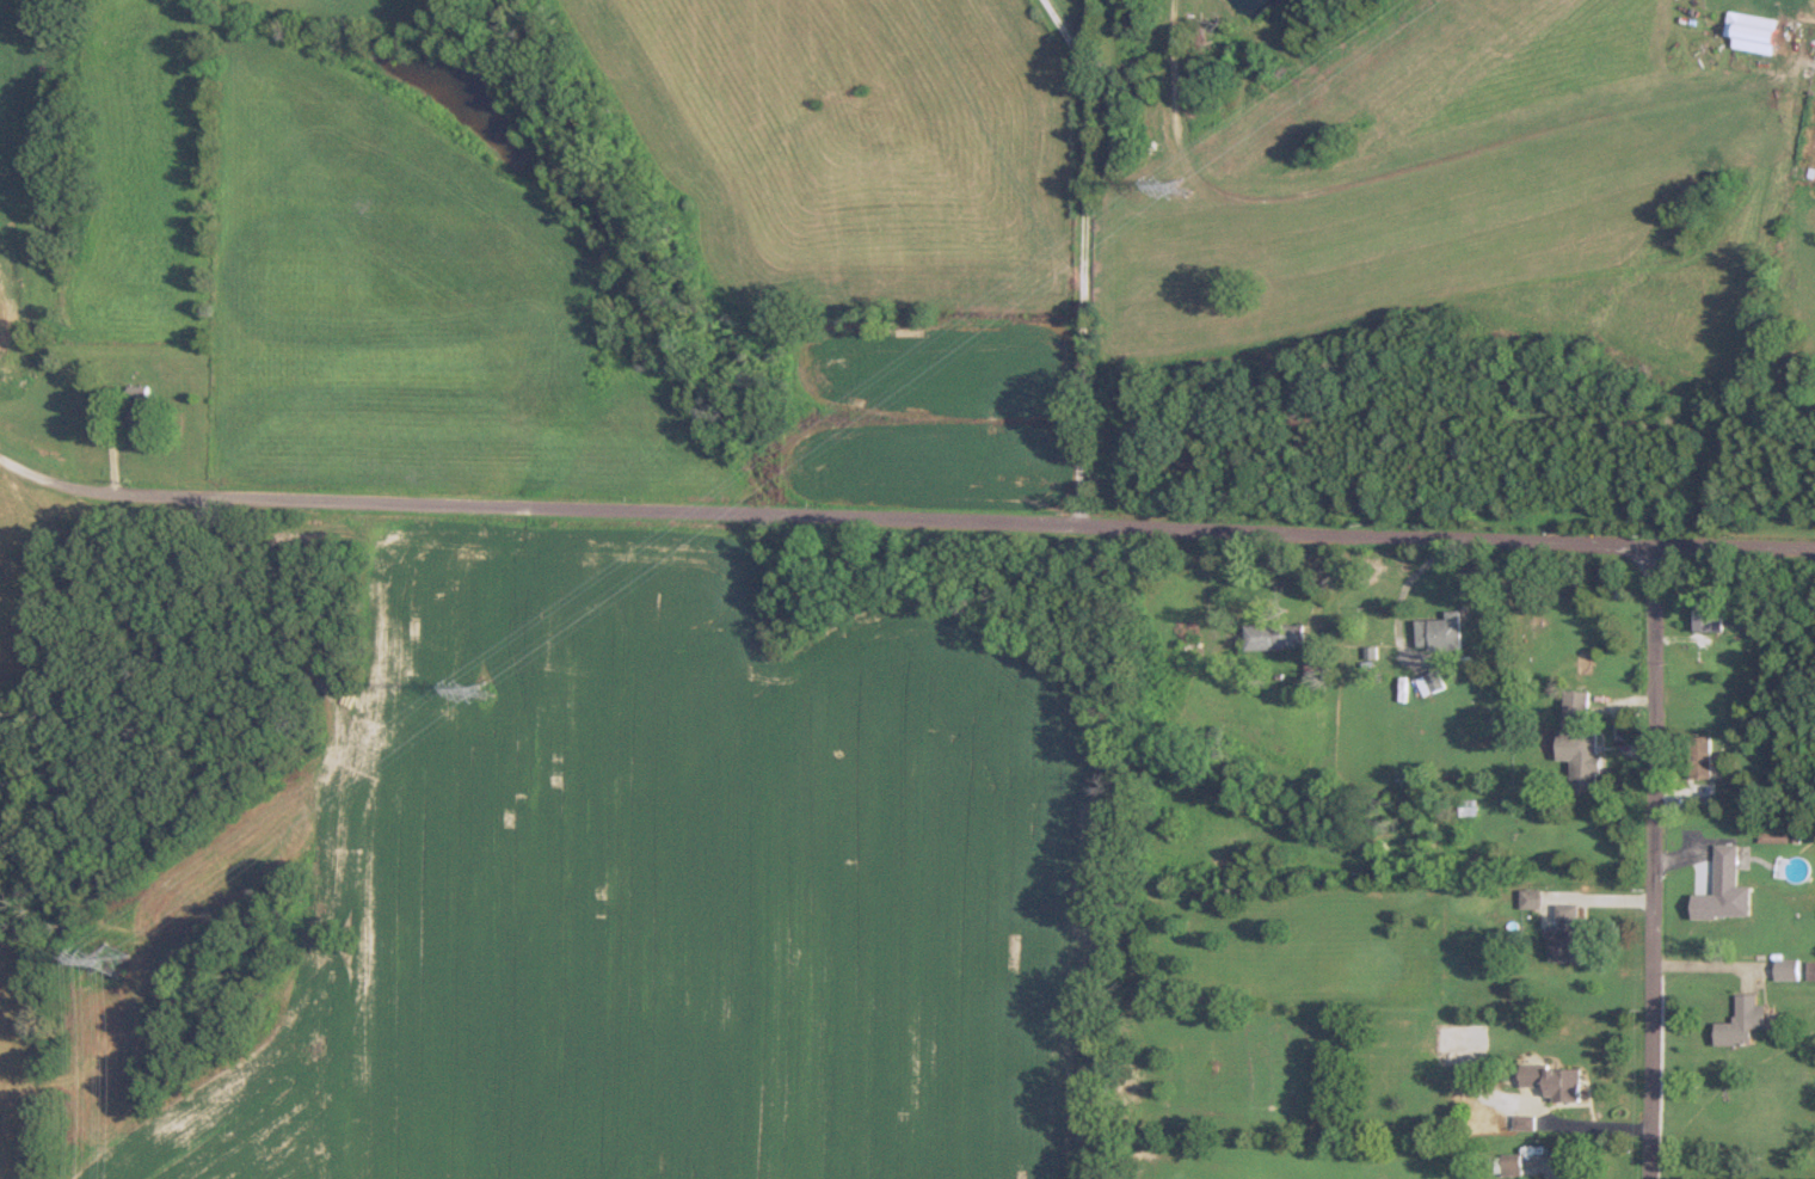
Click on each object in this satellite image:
building: (1753, 30)
power tower: (1183, 182)
road: (1084, 257)
building: (140, 413)
road: (905, 516)
building: (1709, 619)
building: (1440, 631)
building: (1274, 634)
building: (1431, 682)
power tower: (484, 688)
building: (1576, 701)
building: (1700, 756)
building: (1586, 757)
road: (1648, 862)
building: (1791, 867)
building: (1725, 871)
building: (1532, 897)
building: (1565, 932)
power tower: (107, 954)
building: (1789, 968)
building: (1742, 1021)
building: (1555, 1080)

